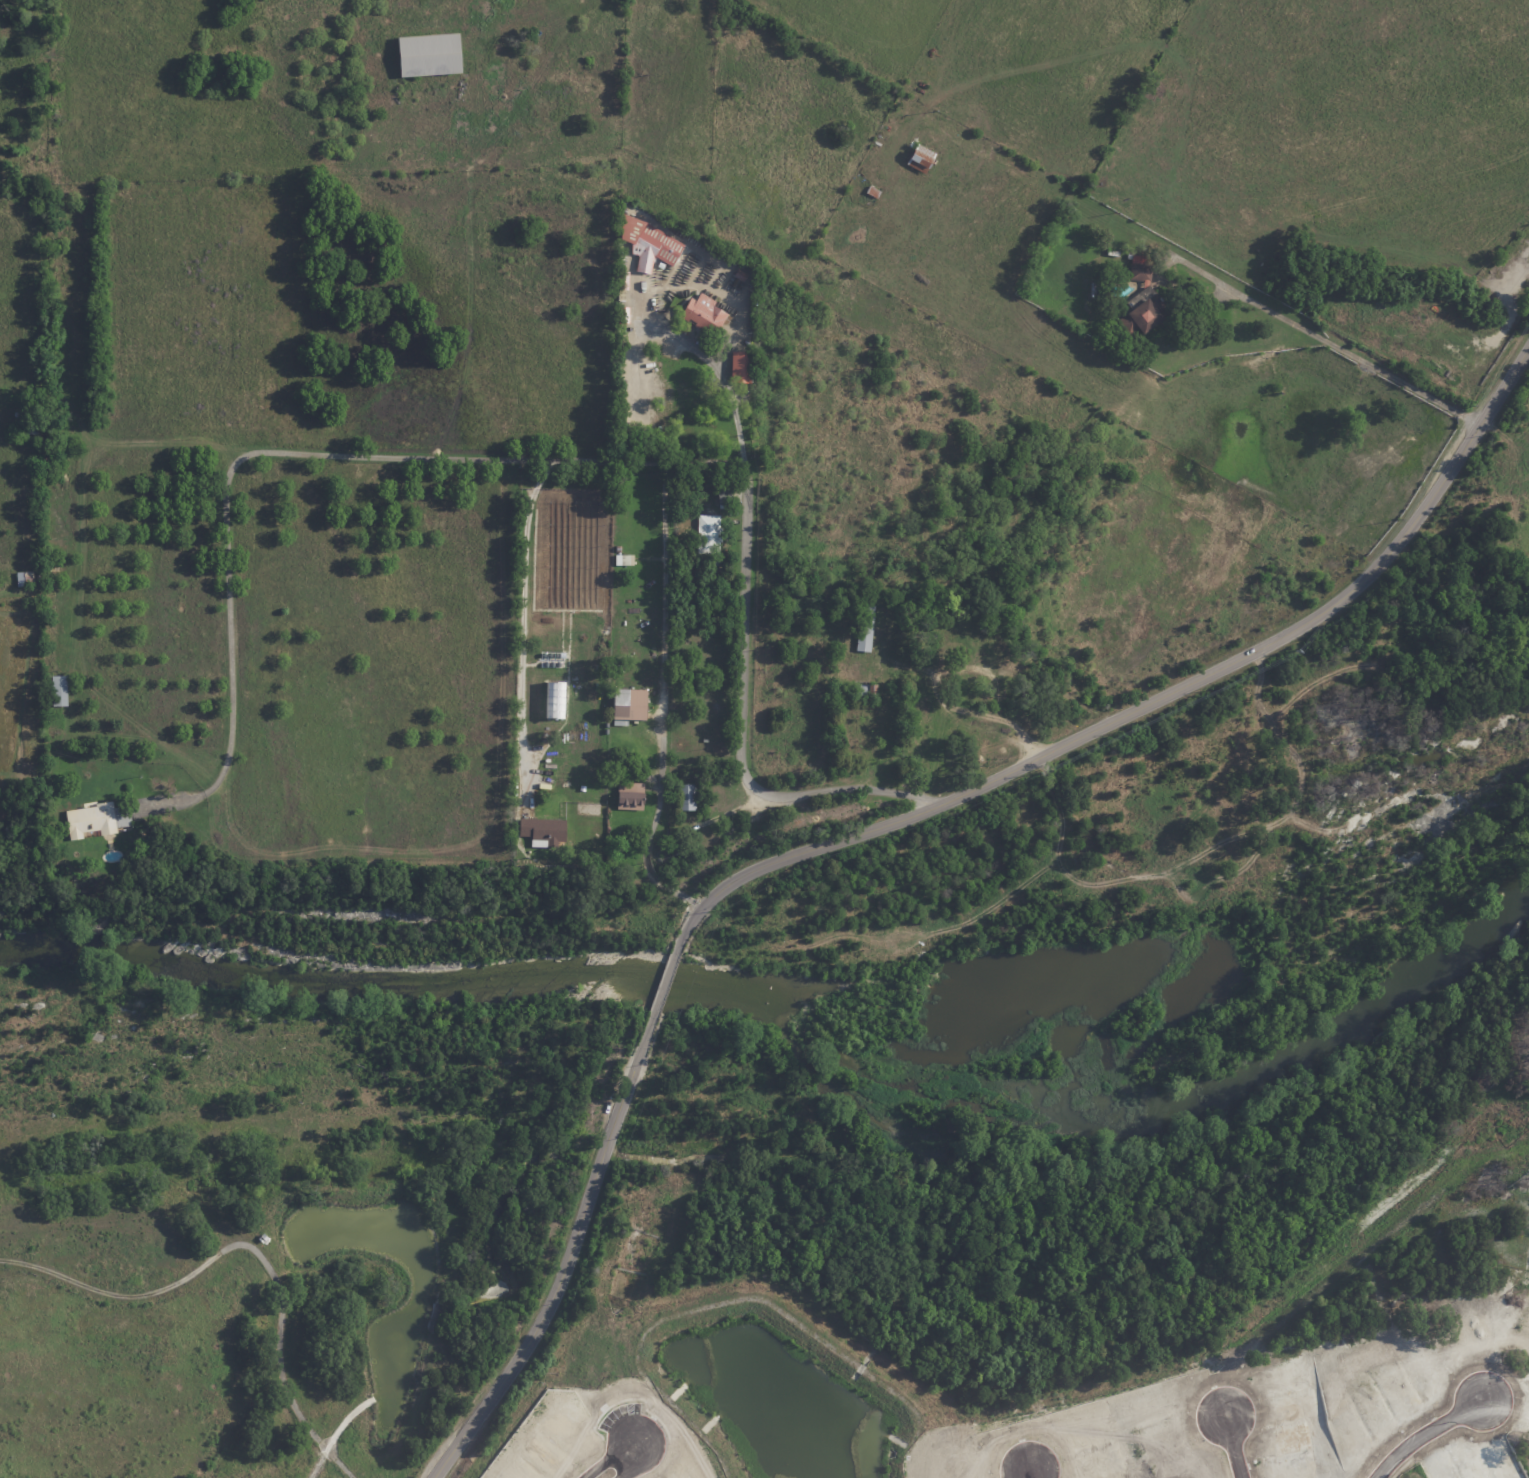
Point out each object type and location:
building: (431, 56)
building: (923, 160)
building: (874, 191)
building: (1105, 236)
building: (650, 243)
building: (1111, 253)
building: (740, 277)
building: (625, 280)
building: (1139, 298)
building: (705, 314)
building: (625, 315)
road: (1328, 341)
road: (633, 358)
building: (743, 366)
building: (33, 427)
building: (48, 451)
road: (254, 453)
building: (723, 498)
building: (710, 536)
building: (624, 562)
building: (719, 564)
building: (704, 573)
building: (25, 579)
road: (741, 596)
building: (705, 607)
building: (867, 627)
road: (520, 630)
road: (661, 665)
building: (866, 688)
building: (60, 692)
road: (1147, 705)
building: (629, 706)
park: (997, 752)
building: (709, 765)
building: (632, 795)
building: (687, 796)
building: (97, 819)
road: (711, 820)
building: (544, 831)
road: (664, 980)
park: (222, 1213)
road: (566, 1258)
road: (278, 1369)
road: (1424, 1434)
road: (1232, 1446)
road: (625, 1449)
road: (1025, 1473)
road: (1028, 1473)

